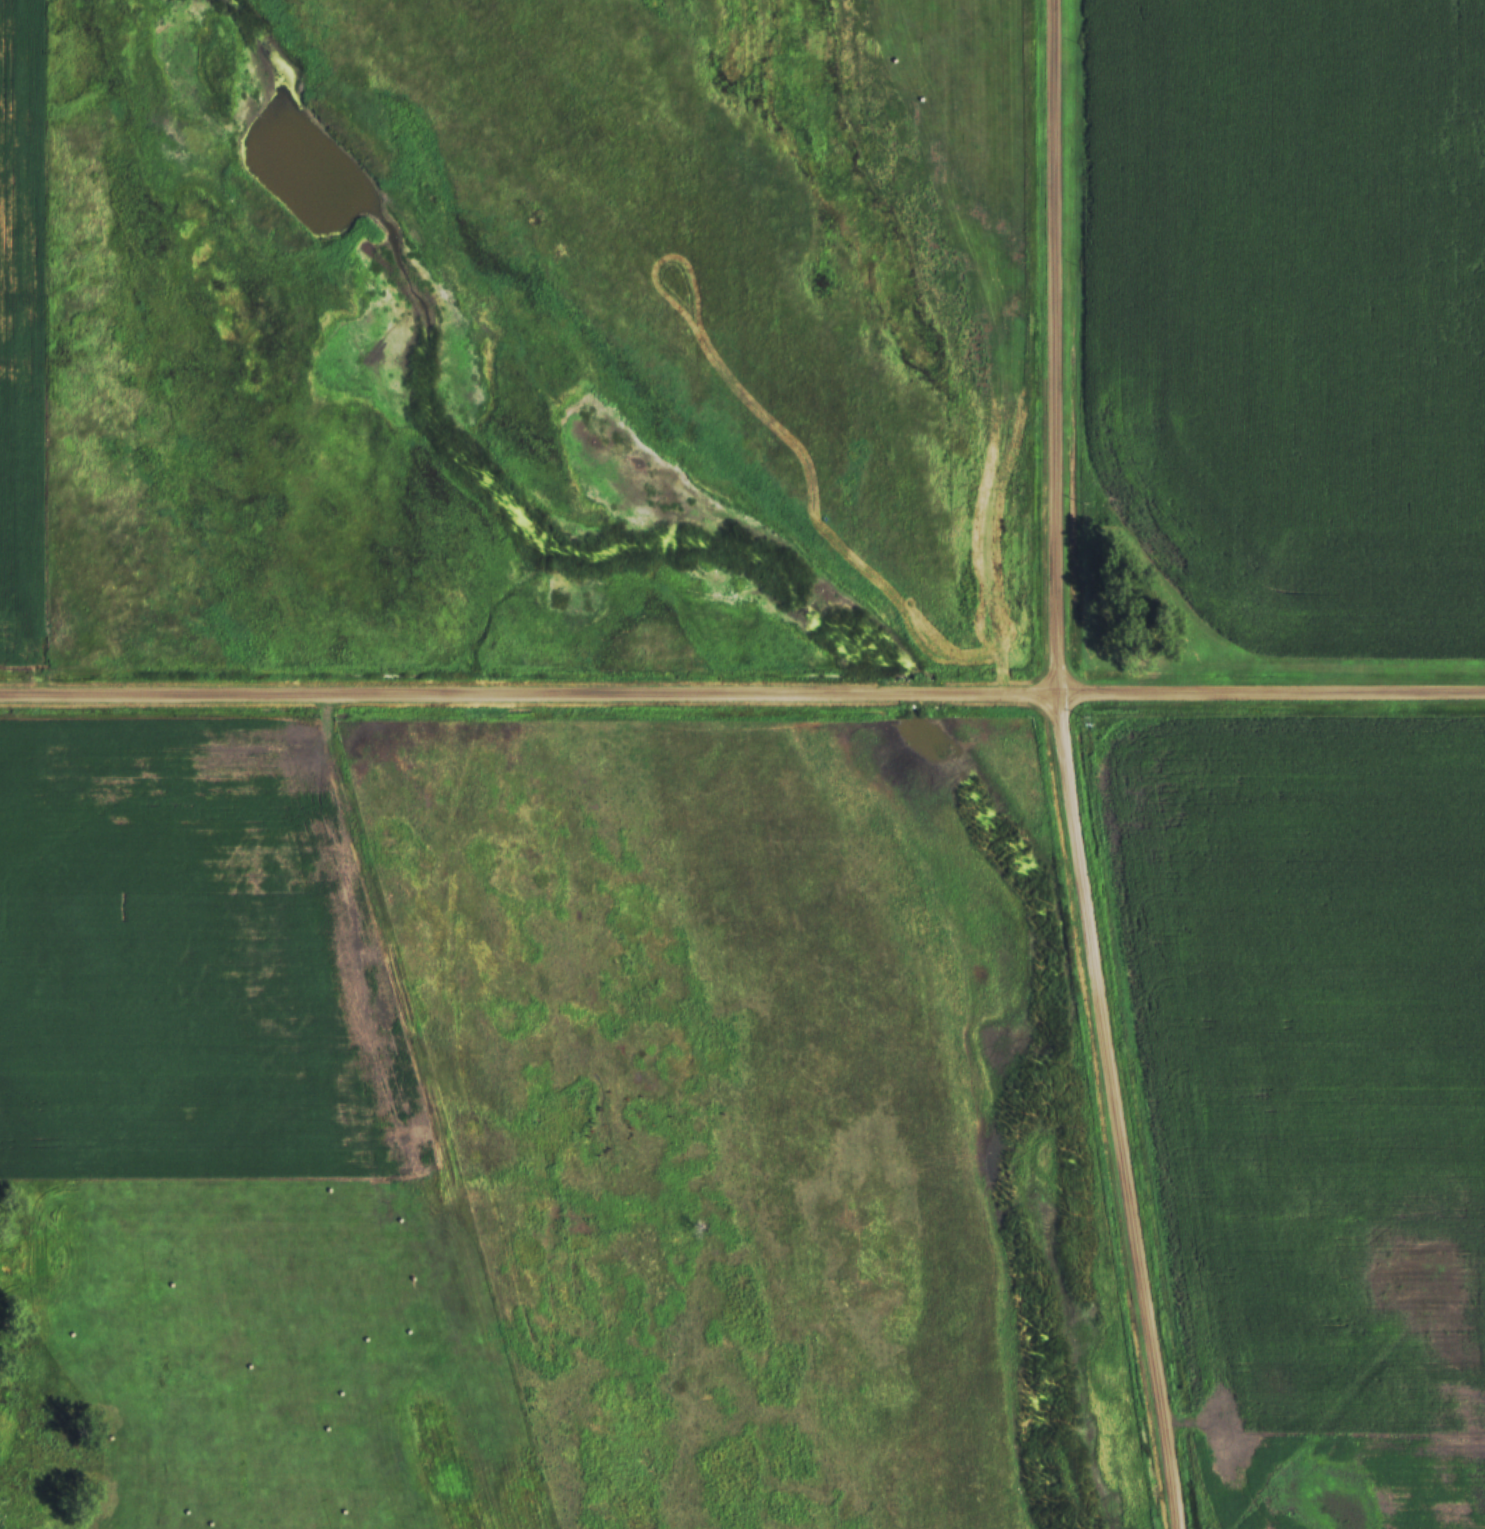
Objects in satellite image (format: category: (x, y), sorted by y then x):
road: (742, 697)
road: (1066, 768)

